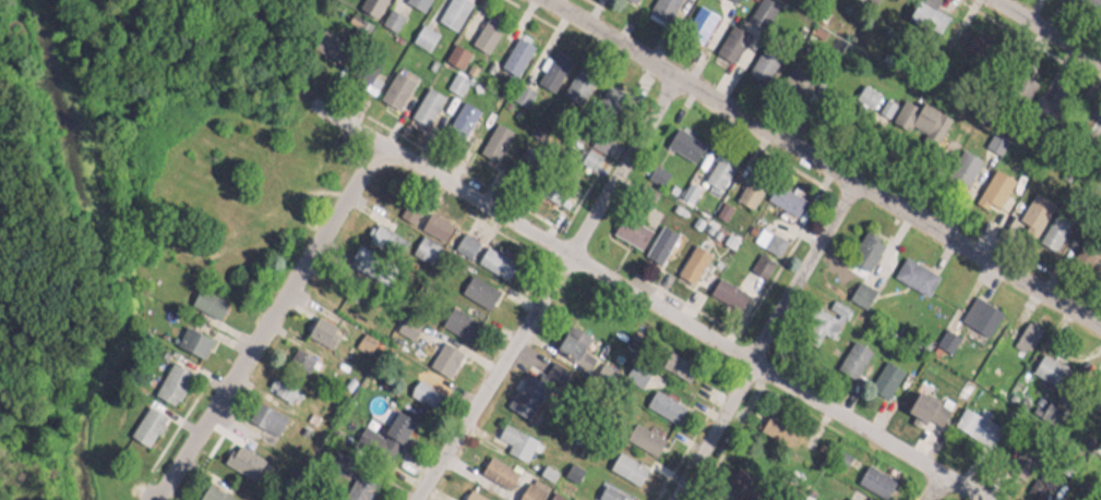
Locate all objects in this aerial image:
building: (418, 1)
building: (367, 4)
building: (659, 4)
building: (758, 8)
building: (451, 9)
building: (390, 12)
building: (925, 12)
building: (697, 17)
building: (423, 31)
road: (1041, 35)
building: (730, 37)
building: (325, 38)
building: (455, 49)
building: (514, 50)
building: (552, 63)
building: (369, 77)
building: (394, 84)
building: (518, 88)
building: (865, 89)
building: (426, 98)
building: (458, 117)
road: (338, 130)
building: (493, 135)
building: (683, 137)
building: (719, 166)
road: (814, 168)
building: (994, 182)
building: (749, 187)
building: (783, 193)
building: (1033, 206)
building: (415, 211)
building: (1053, 225)
building: (380, 229)
building: (658, 237)
building: (463, 239)
building: (421, 243)
building: (863, 246)
building: (494, 256)
building: (691, 258)
building: (912, 268)
building: (477, 285)
building: (726, 286)
road: (541, 292)
building: (207, 296)
building: (979, 310)
building: (456, 316)
building: (320, 325)
road: (673, 325)
road: (267, 328)
building: (946, 333)
building: (1022, 333)
building: (191, 336)
building: (569, 339)
road: (765, 346)
building: (443, 352)
building: (852, 353)
building: (1045, 362)
building: (289, 367)
building: (883, 373)
building: (170, 377)
building: (423, 387)
building: (524, 389)
building: (661, 399)
building: (925, 407)
building: (258, 410)
building: (1048, 411)
building: (145, 419)
building: (395, 422)
building: (971, 424)
building: (642, 431)
building: (514, 435)
building: (625, 461)
building: (1017, 461)
building: (495, 465)
building: (871, 478)
road: (931, 490)

